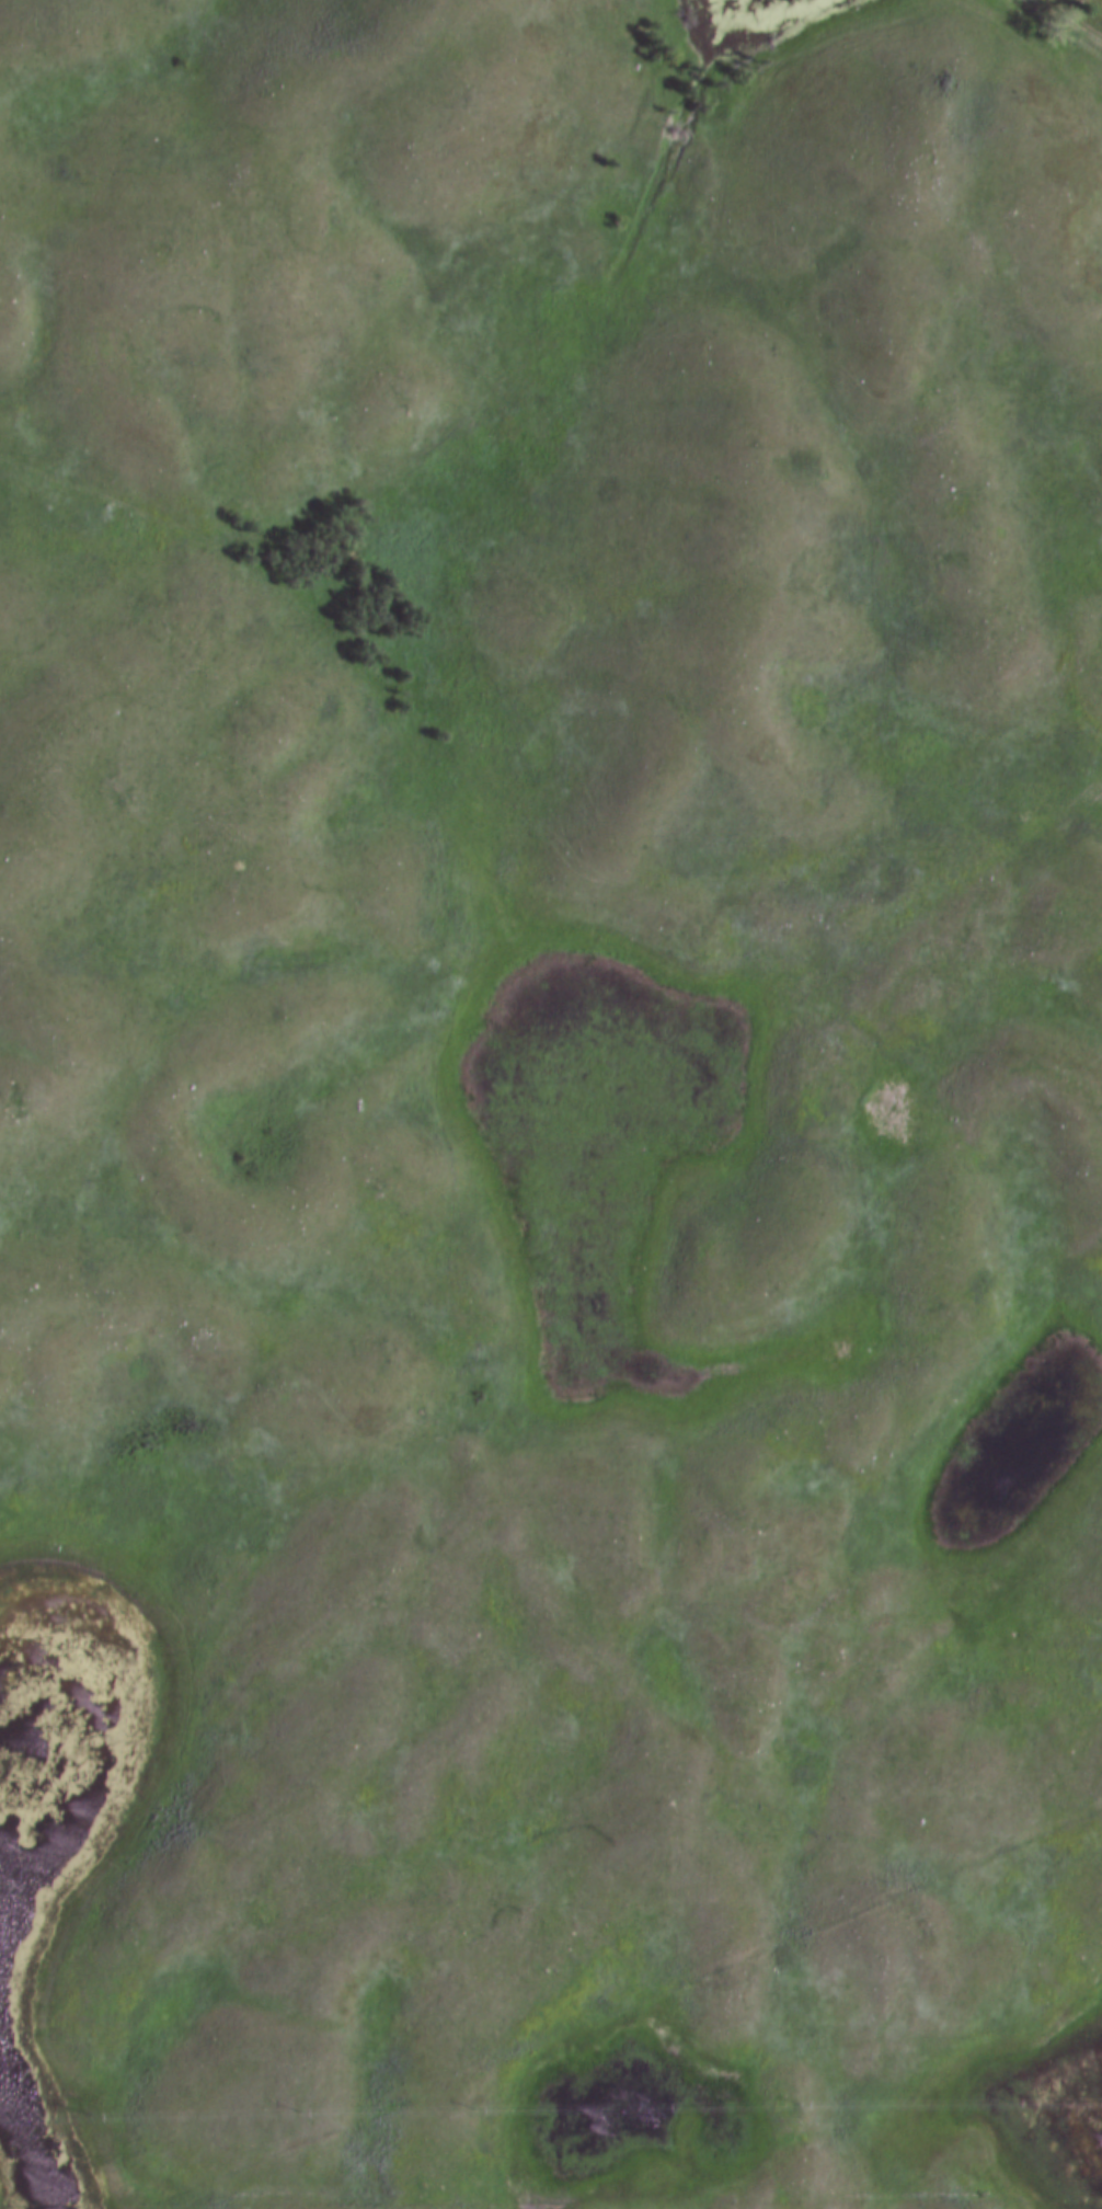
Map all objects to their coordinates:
road: (1066, 20)

